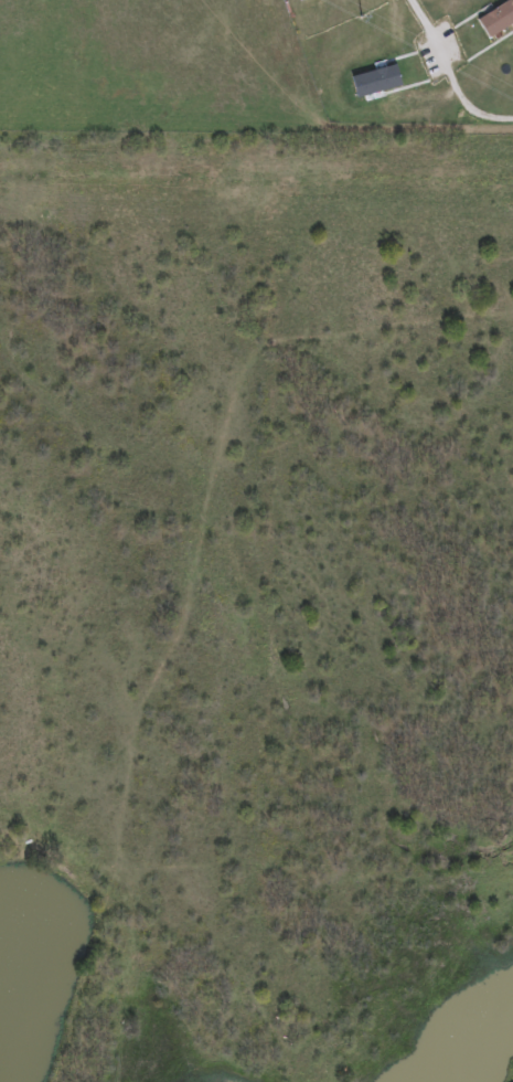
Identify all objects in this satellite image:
building: (499, 22)
road: (451, 72)
building: (378, 83)

